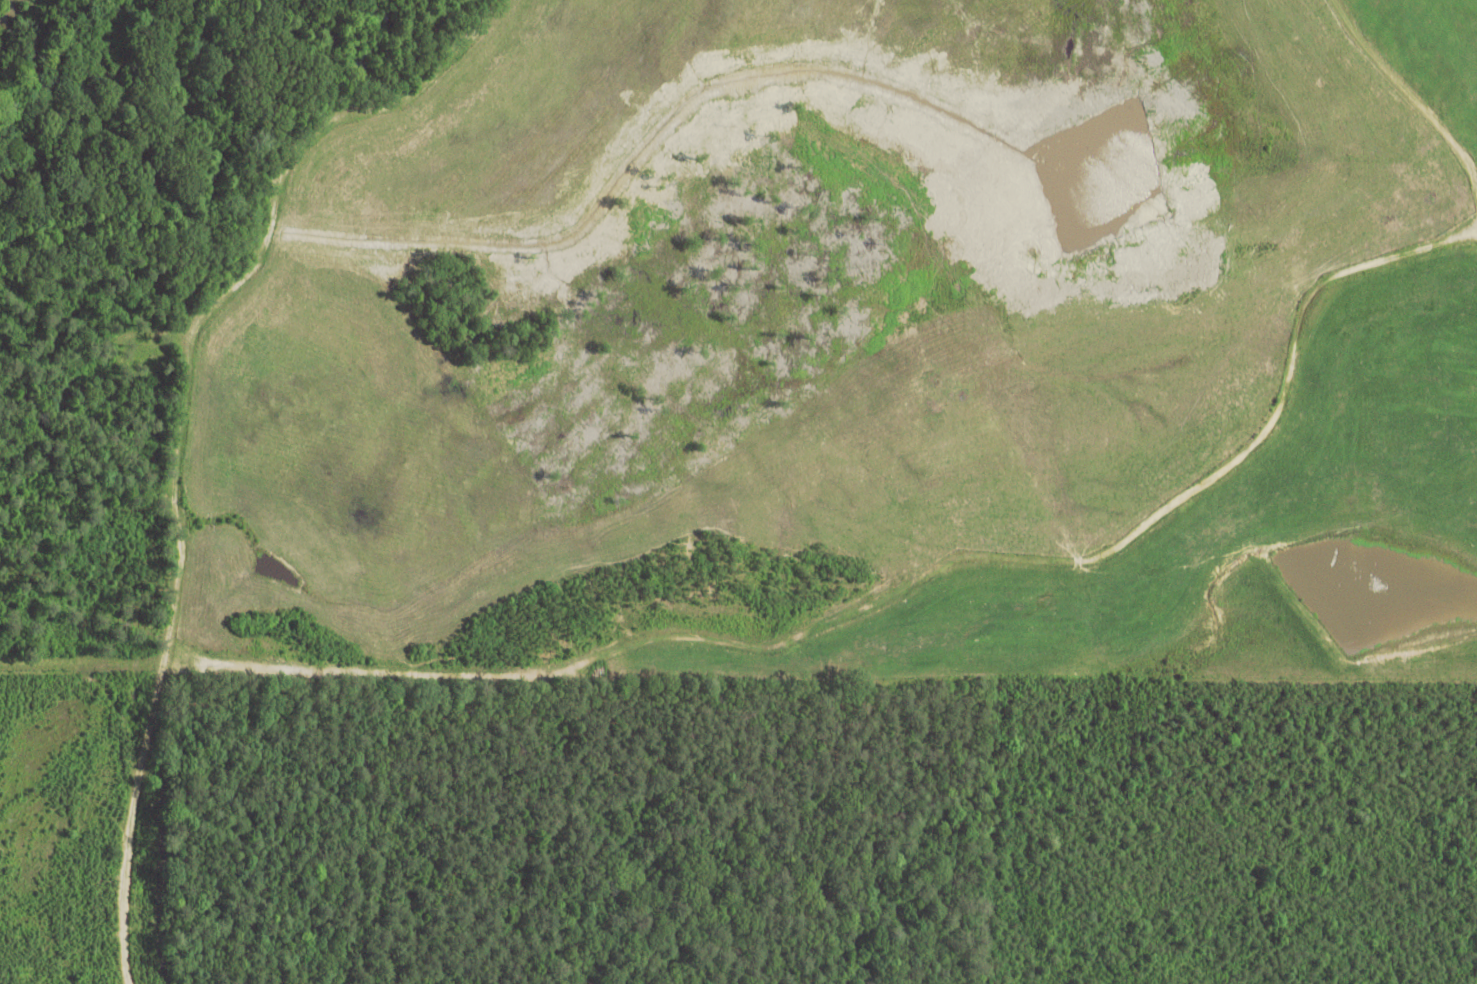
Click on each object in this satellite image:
river: (13, 20)

